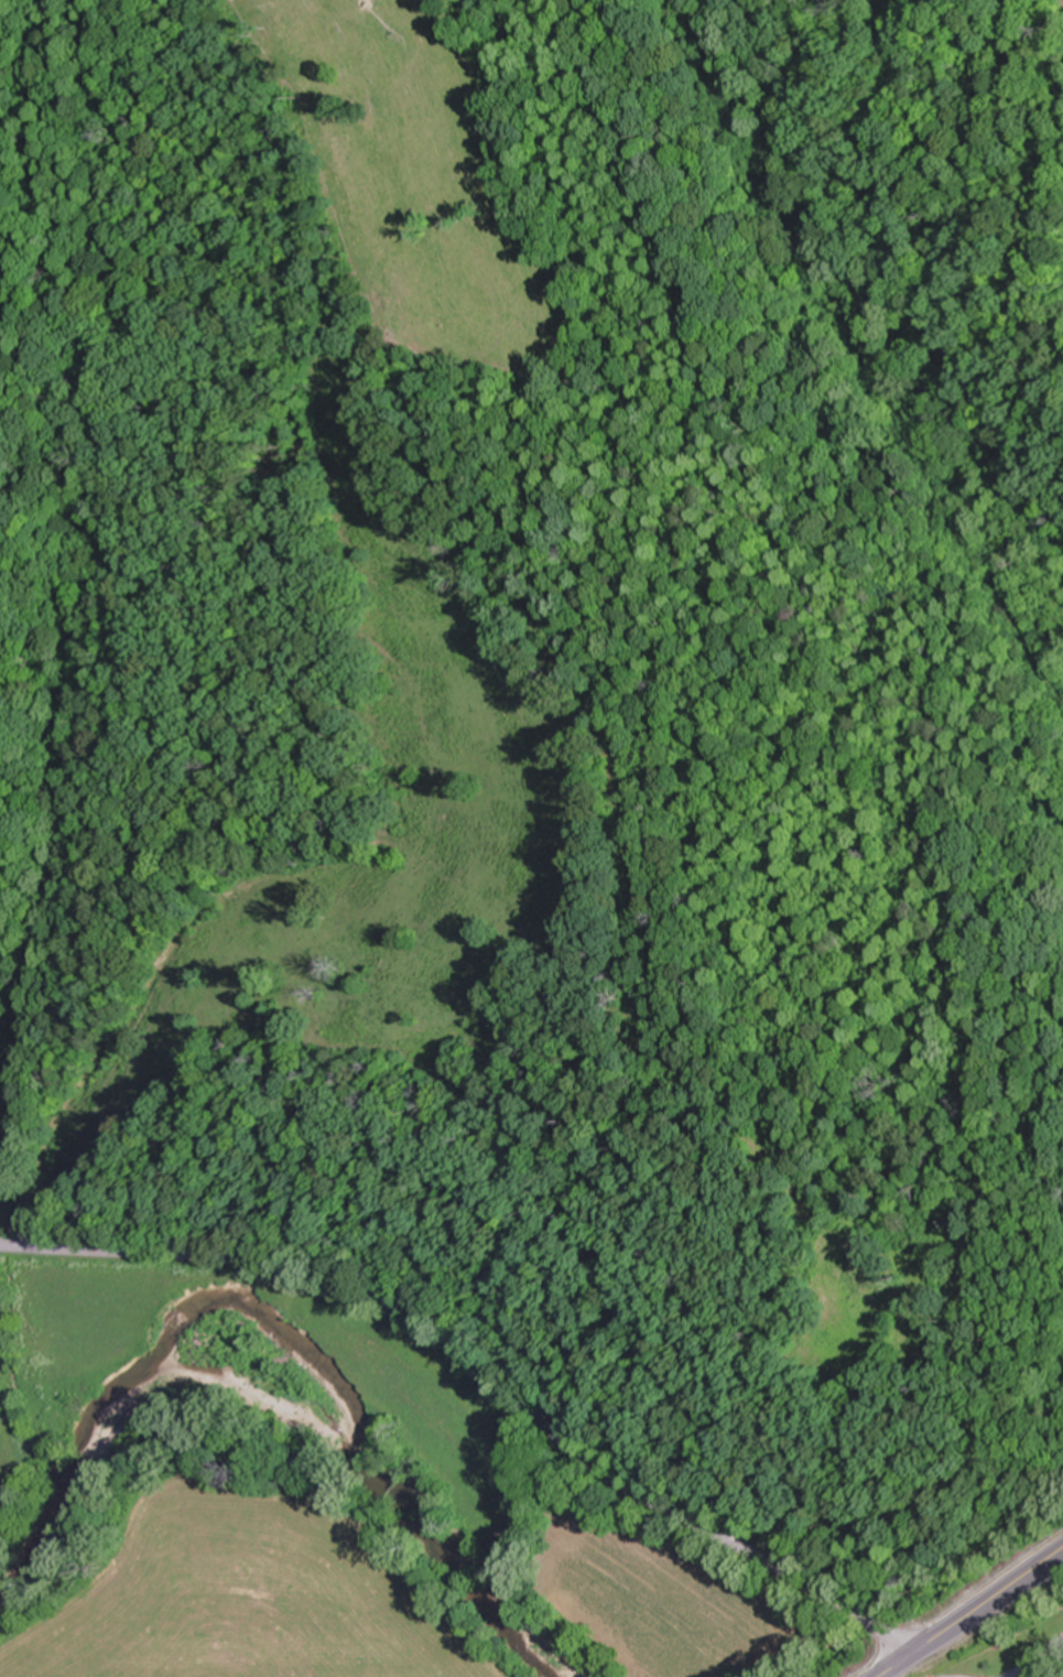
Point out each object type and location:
river: (275, 1332)
road: (484, 1375)
road: (973, 1613)
road: (1039, 1659)

